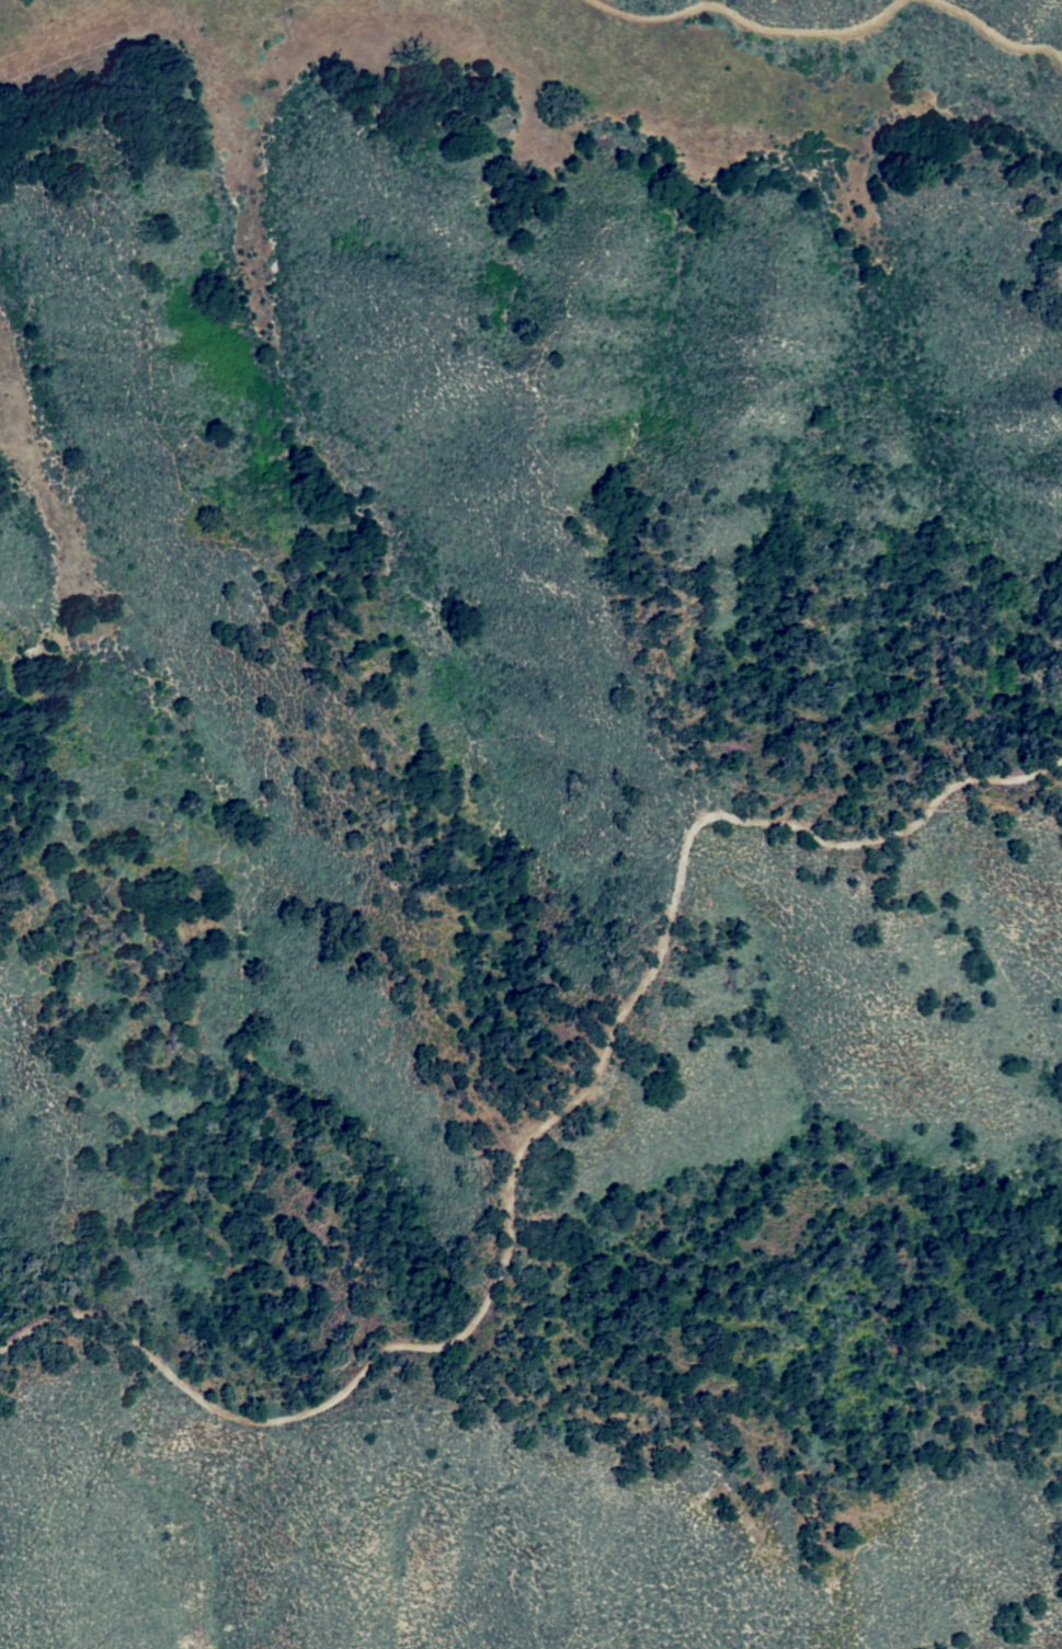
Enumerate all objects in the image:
park: (1027, 1587)

